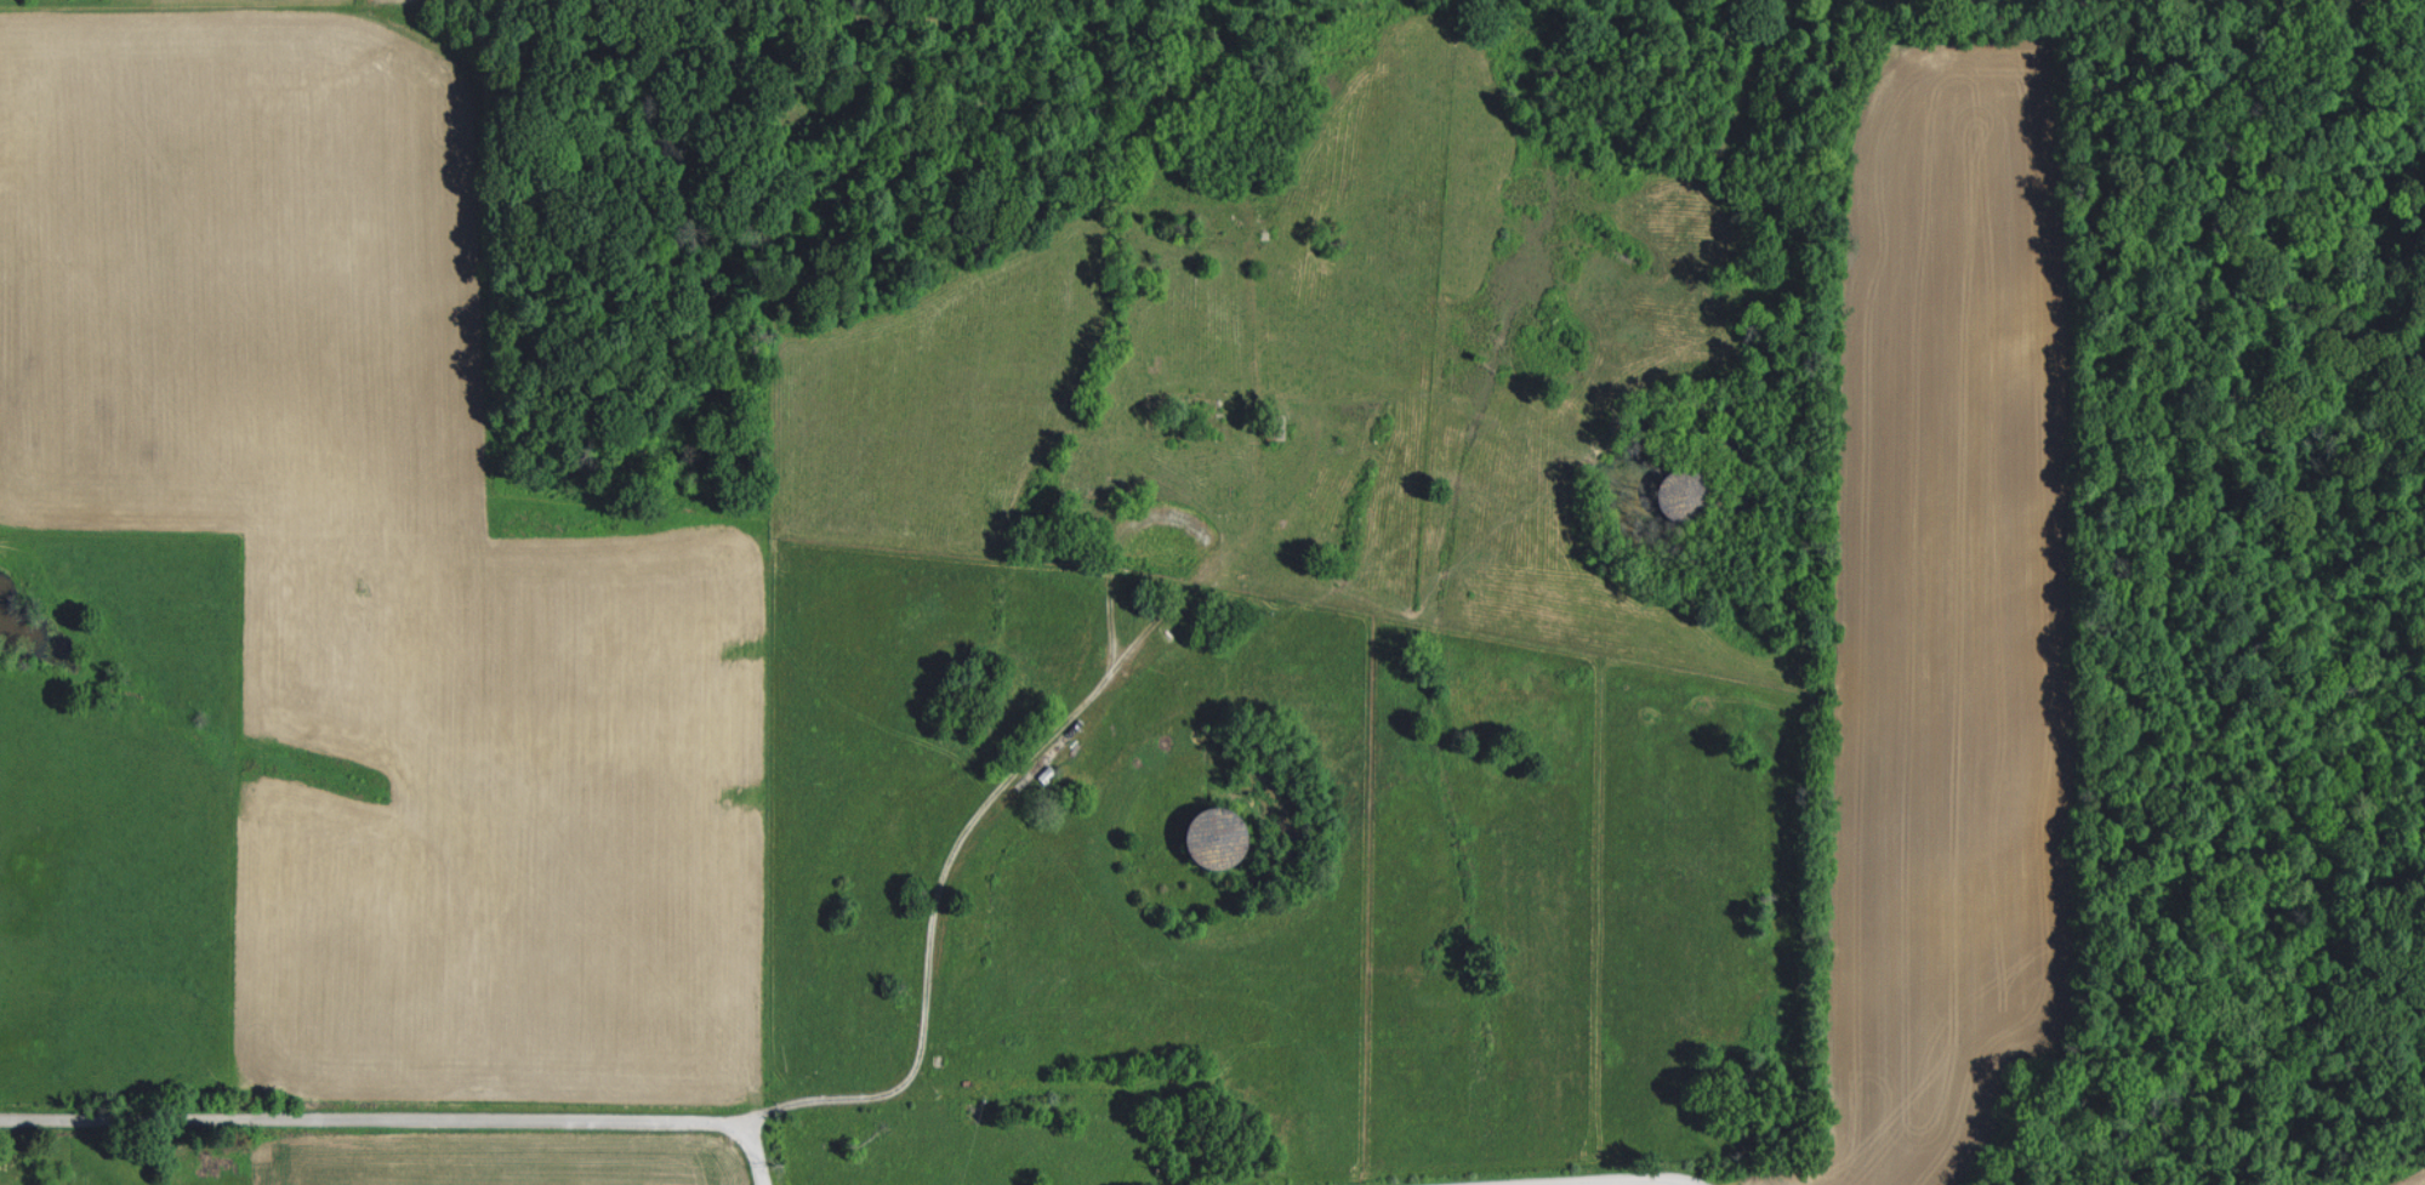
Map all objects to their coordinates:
road: (927, 980)
road: (371, 1117)
road: (763, 1153)

